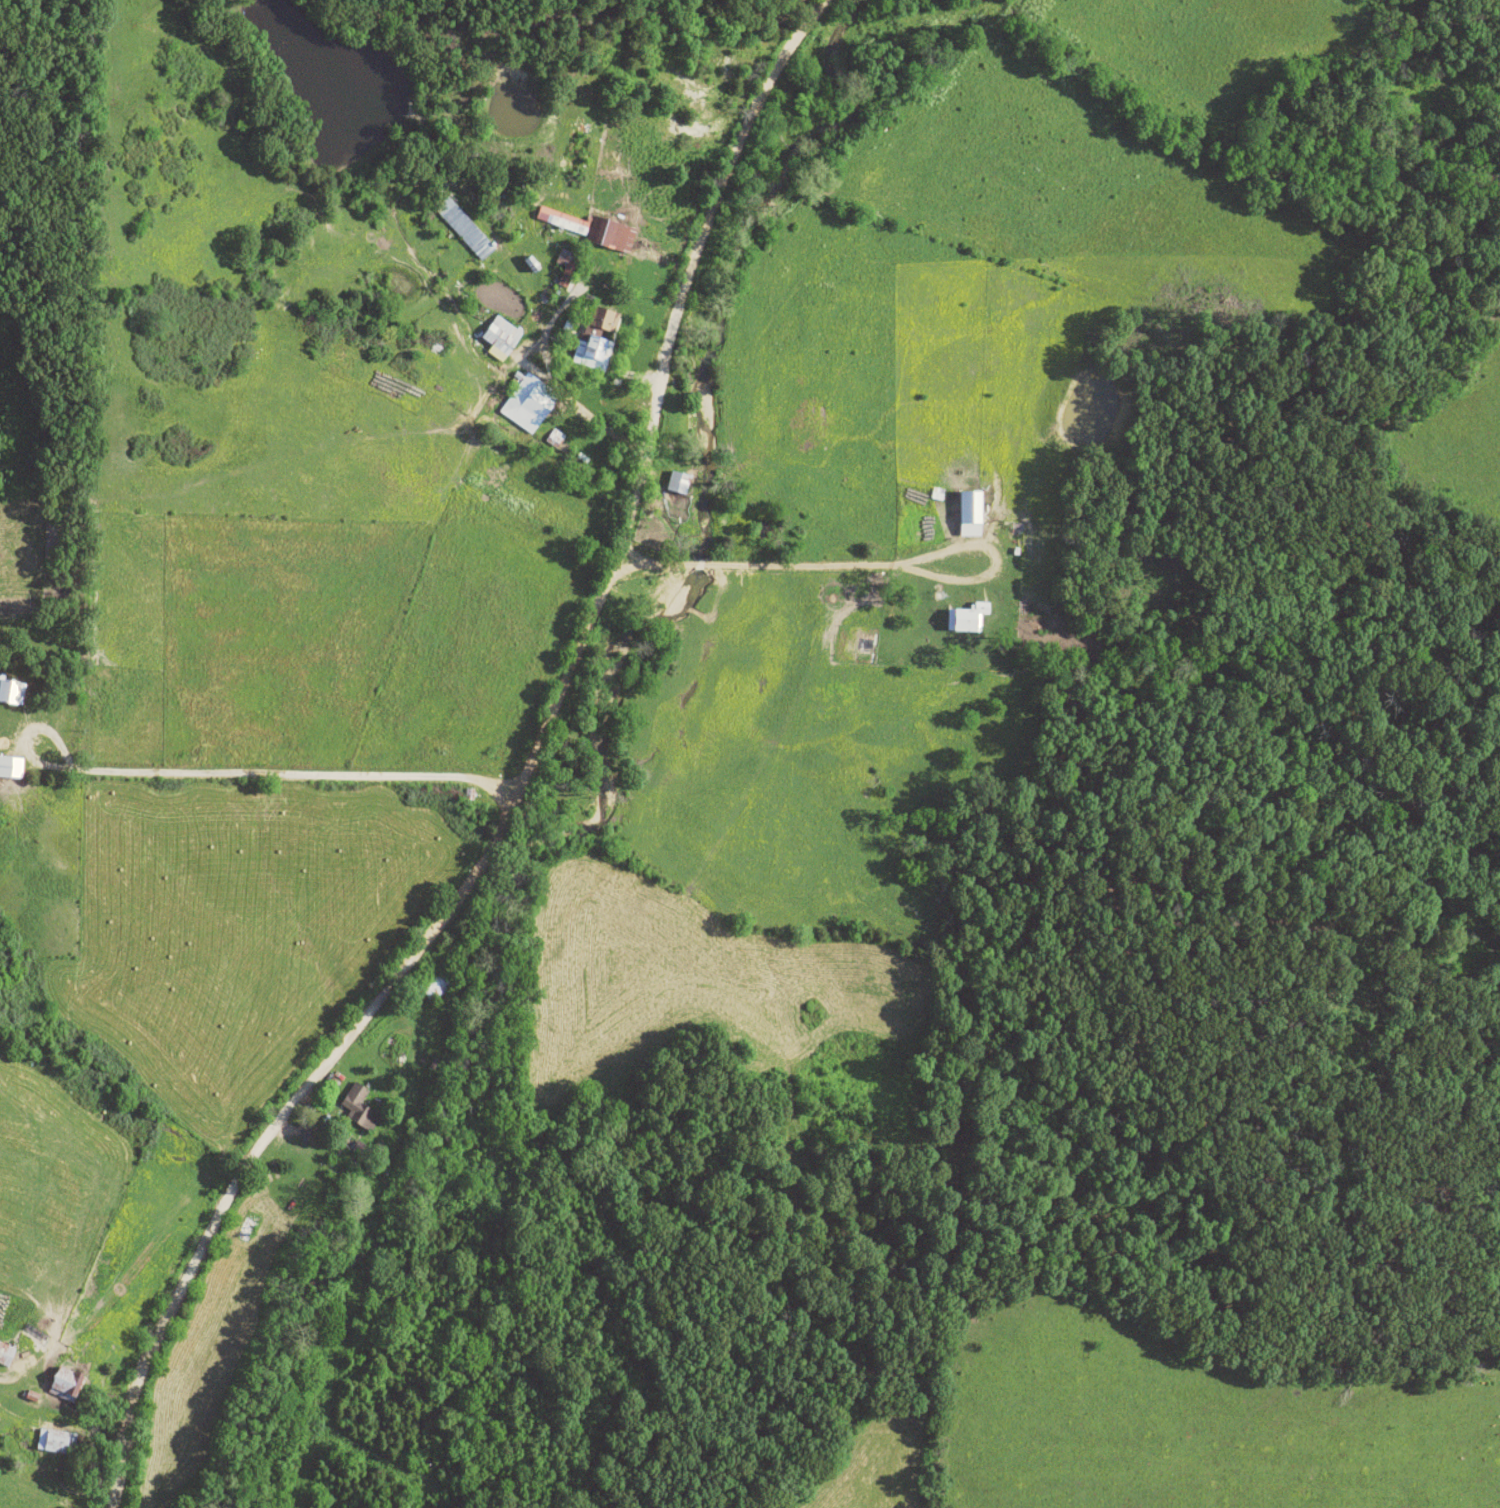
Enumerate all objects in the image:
building: (562, 221)
building: (463, 228)
building: (616, 238)
building: (565, 266)
building: (602, 321)
building: (500, 338)
building: (594, 351)
road: (541, 382)
building: (513, 403)
building: (557, 442)
building: (676, 483)
building: (970, 515)
building: (966, 619)
building: (8, 693)
building: (11, 768)
road: (224, 776)
road: (515, 779)
road: (326, 1076)
building: (358, 1109)
building: (5, 1354)
building: (65, 1382)
road: (4, 1389)
building: (51, 1442)

